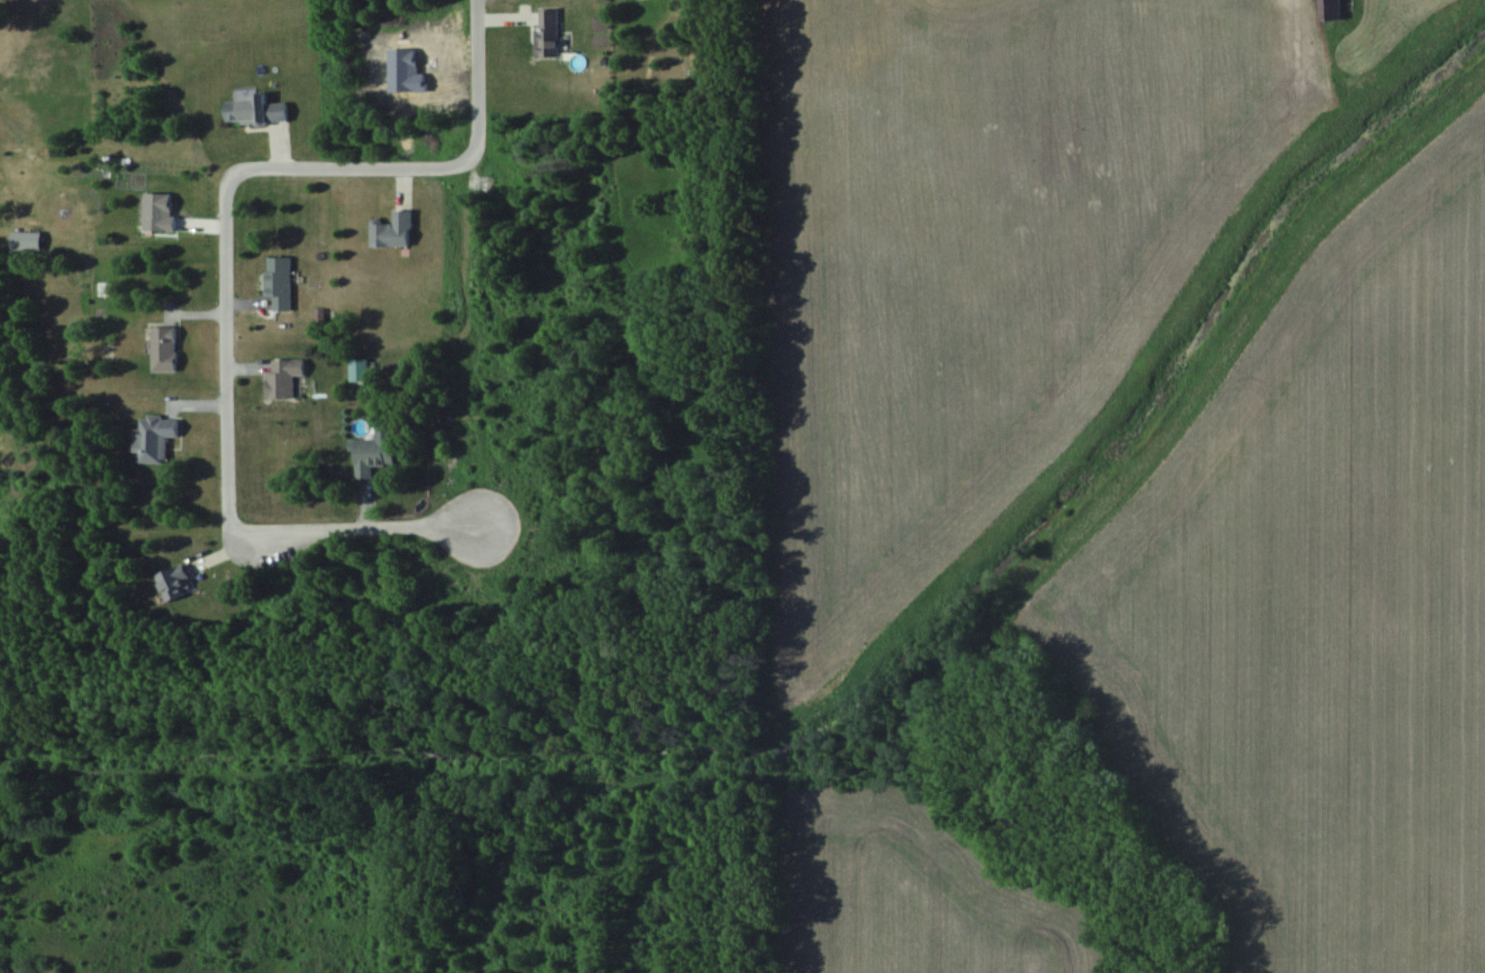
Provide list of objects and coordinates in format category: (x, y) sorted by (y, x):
building: (1331, 10)
building: (549, 33)
building: (257, 111)
building: (395, 230)
road: (224, 274)
building: (280, 282)
building: (165, 350)
building: (360, 370)
building: (285, 379)
building: (156, 438)
building: (374, 456)
building: (173, 583)

